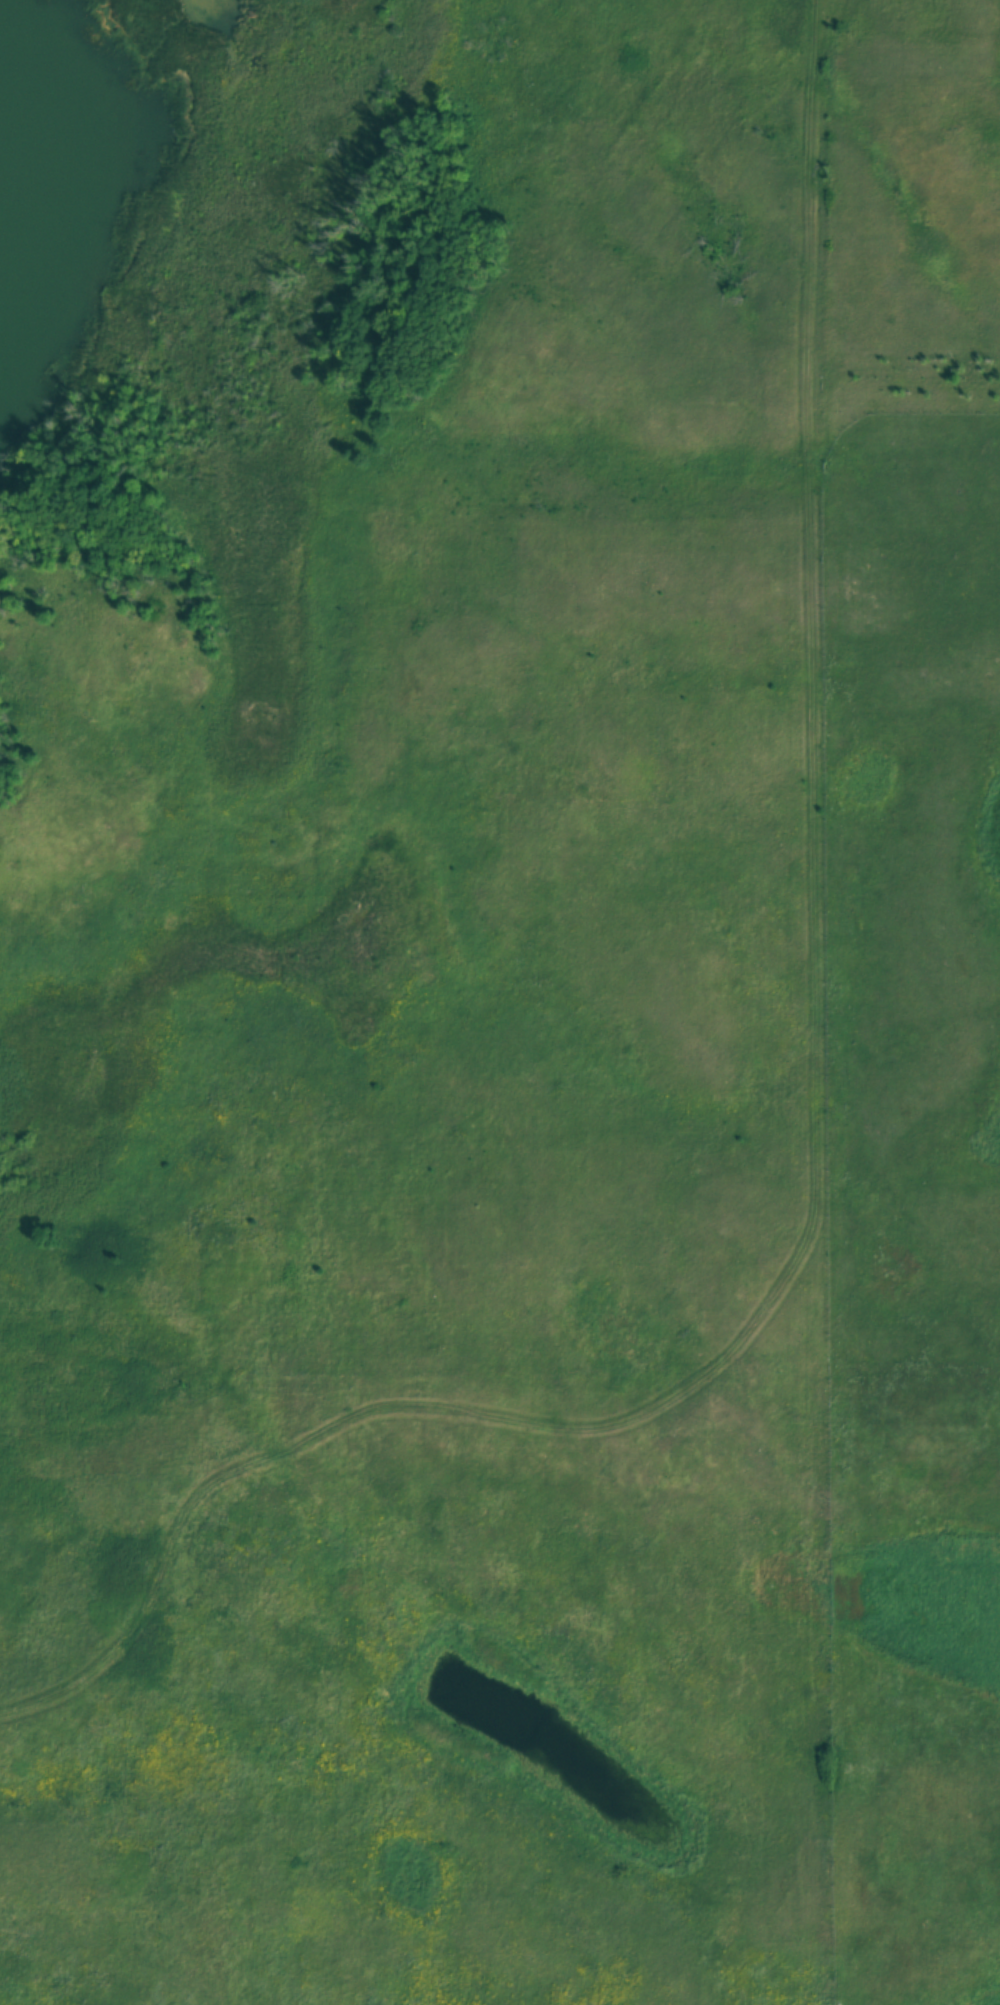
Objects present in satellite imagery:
road: (826, 1137)

